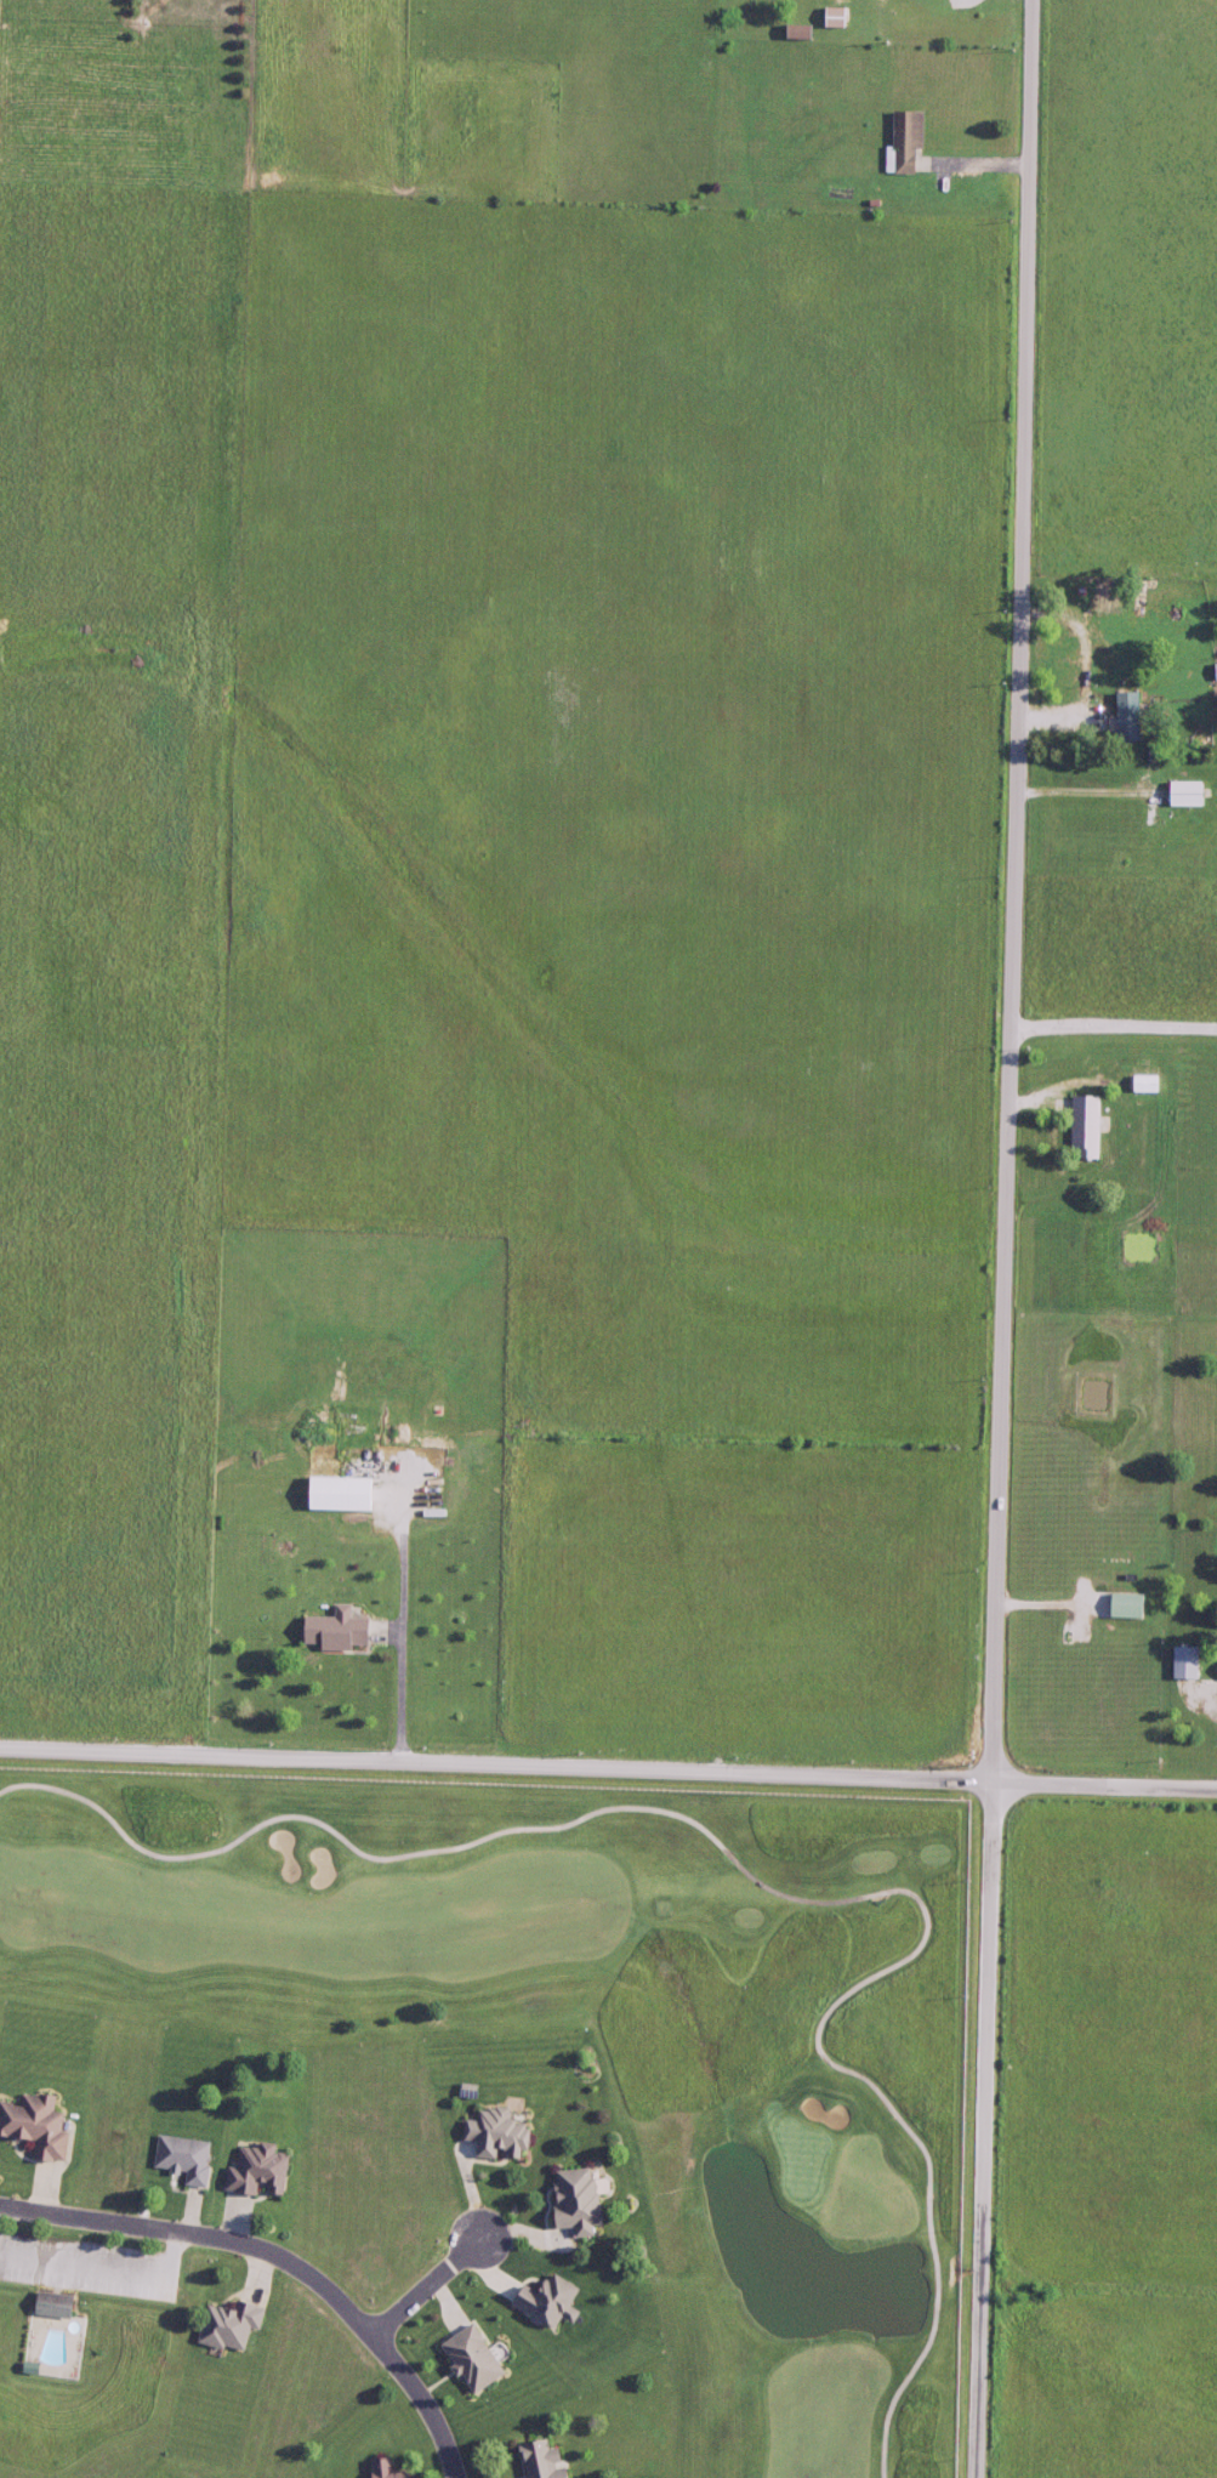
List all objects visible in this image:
building: (832, 17)
building: (900, 141)
building: (1099, 658)
building: (1213, 671)
building: (1122, 716)
building: (1182, 794)
road: (1114, 1029)
building: (1143, 1085)
building: (1082, 1127)
road: (1007, 1239)
building: (336, 1494)
building: (1124, 1607)
building: (331, 1631)
building: (1182, 1663)
road: (404, 1682)
road: (608, 1772)
road: (496, 1831)
park: (595, 2028)
building: (35, 2124)
park: (477, 2126)
building: (491, 2131)
building: (175, 2159)
building: (252, 2171)
road: (927, 2186)
building: (568, 2204)
road: (95, 2256)
road: (280, 2258)
road: (428, 2290)
building: (542, 2296)
building: (45, 2304)
building: (222, 2326)
park: (81, 2351)
building: (468, 2354)
building: (539, 2457)
building: (381, 2468)

